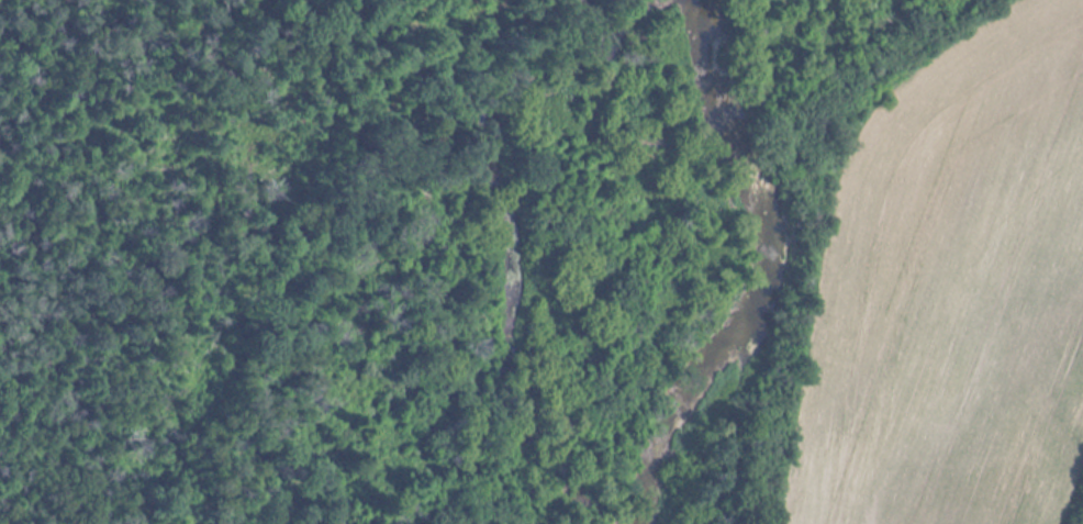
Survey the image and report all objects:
river: (763, 274)

